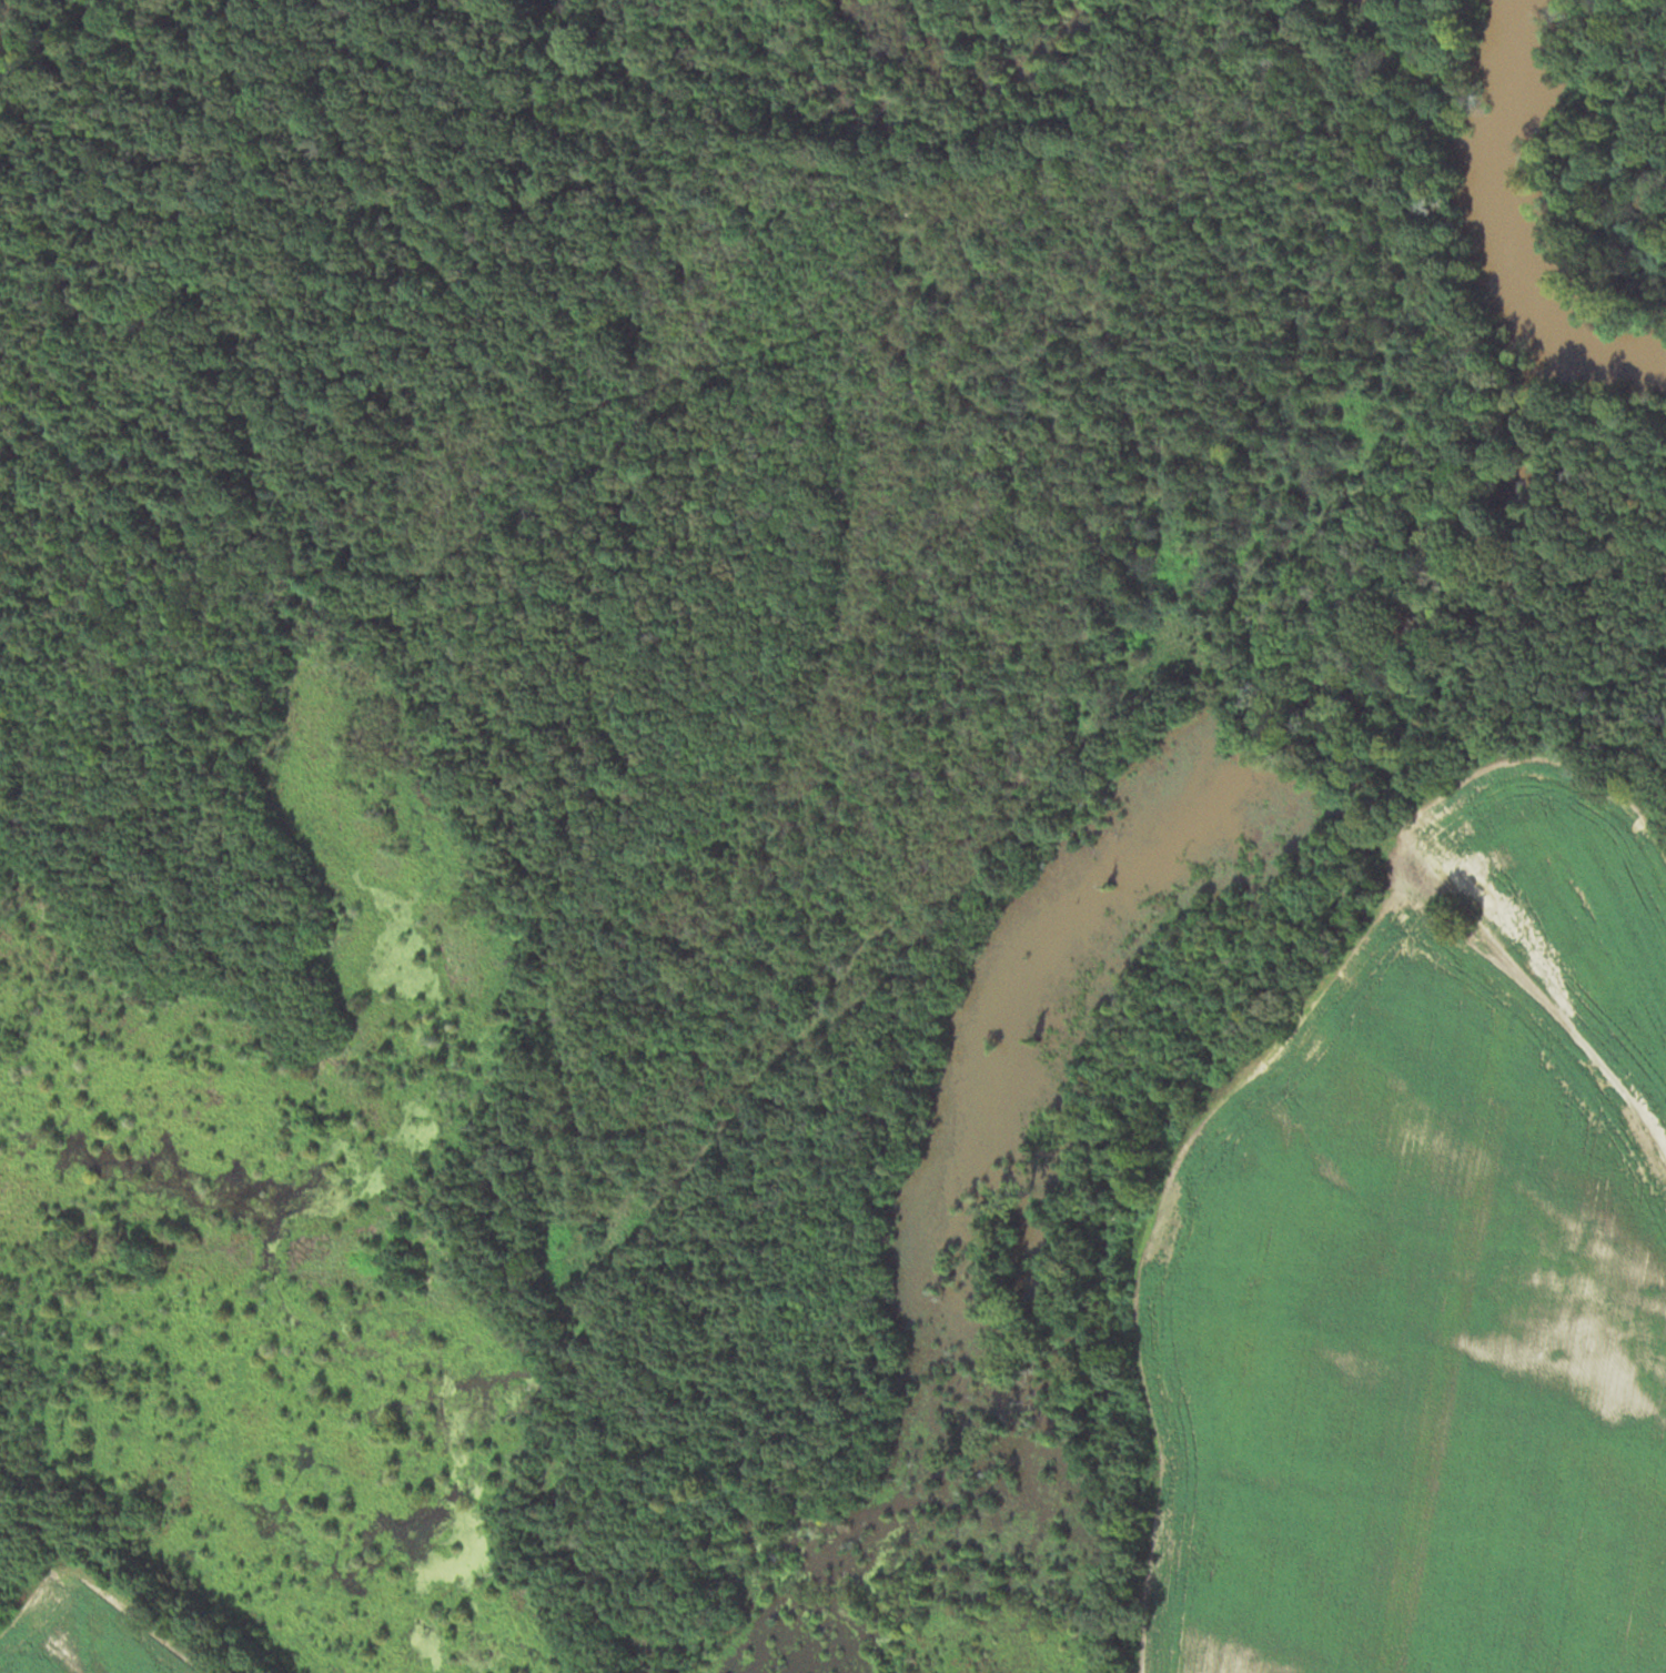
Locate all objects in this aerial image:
river: (1506, 194)
river: (1636, 356)

